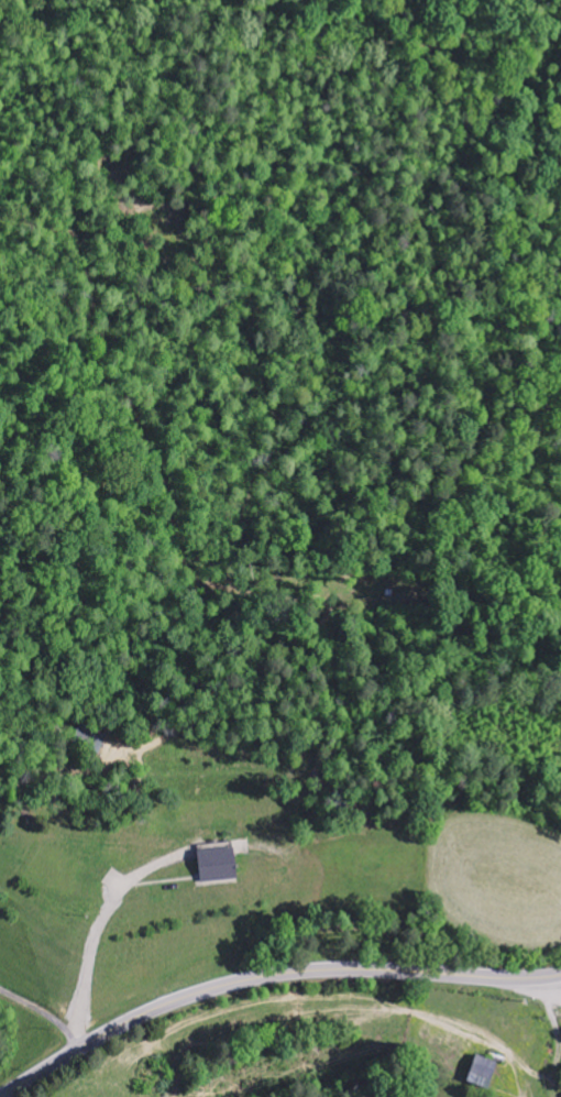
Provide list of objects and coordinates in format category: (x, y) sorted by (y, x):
building: (90, 738)
building: (220, 866)
road: (266, 977)
road: (43, 1014)
building: (485, 1072)

